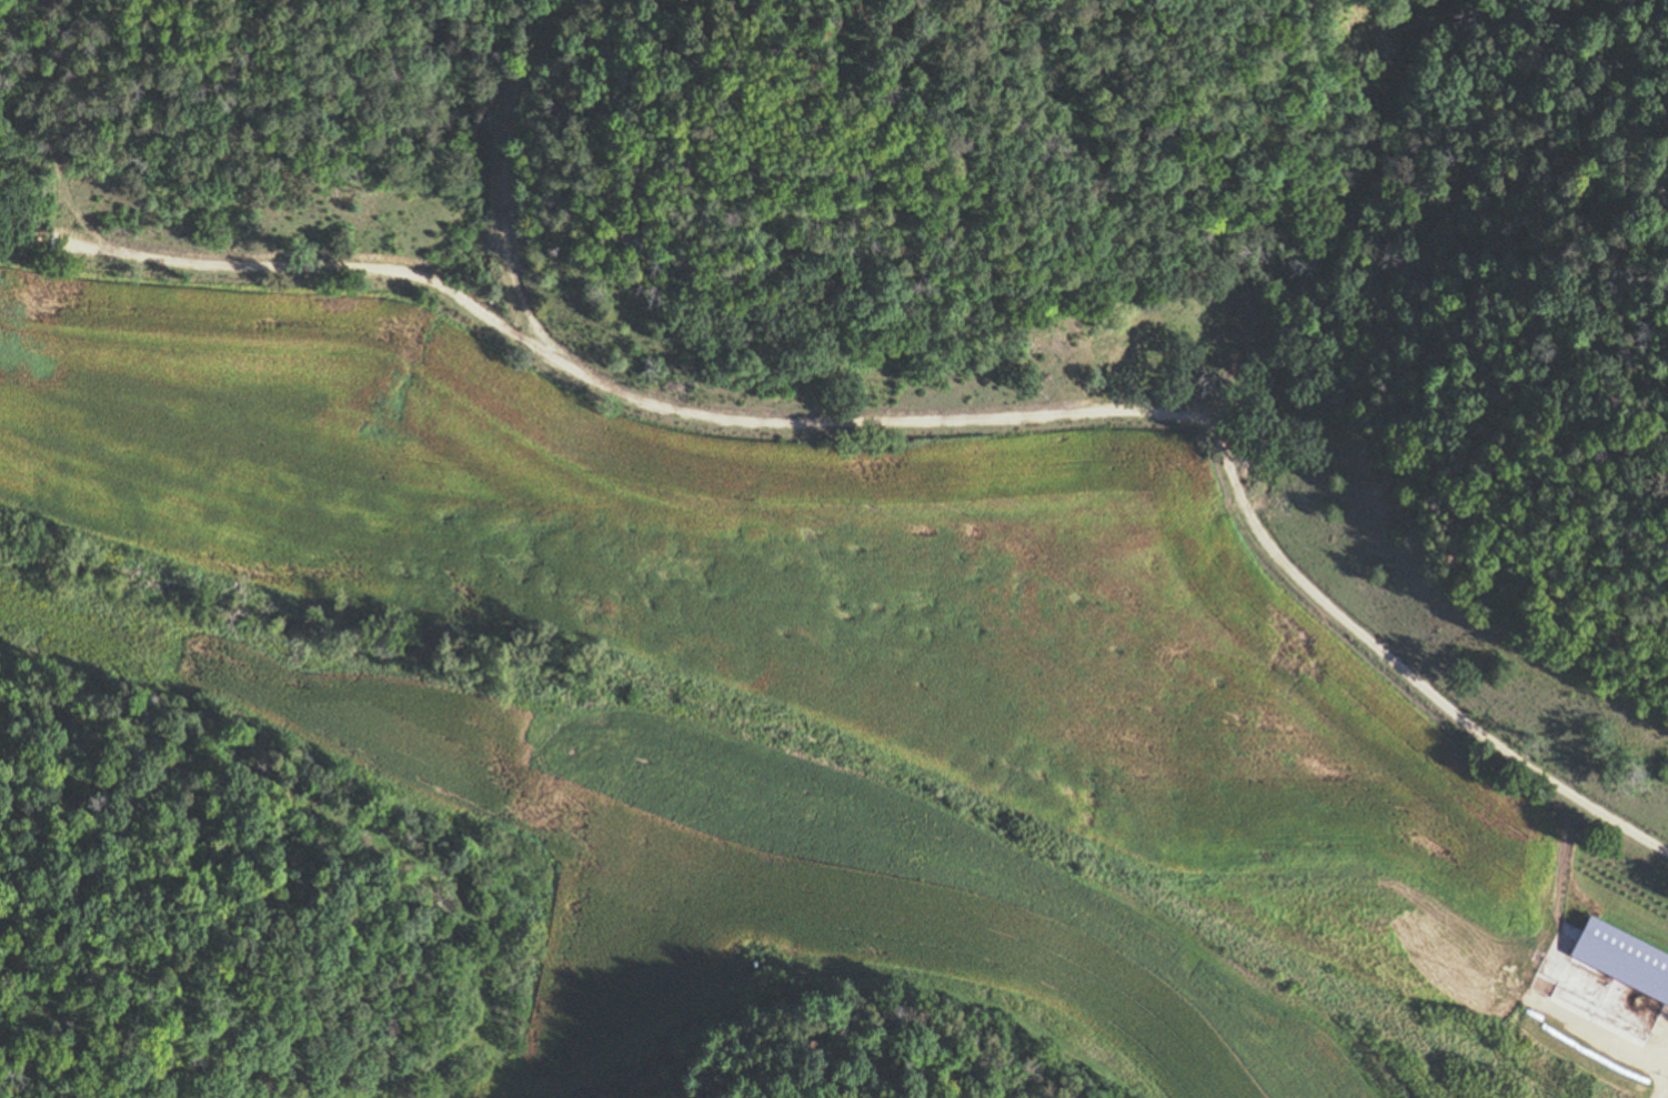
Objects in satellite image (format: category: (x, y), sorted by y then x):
building: (1635, 910)
building: (1656, 977)
building: (1591, 986)
building: (1646, 1047)
building: (1619, 1068)

